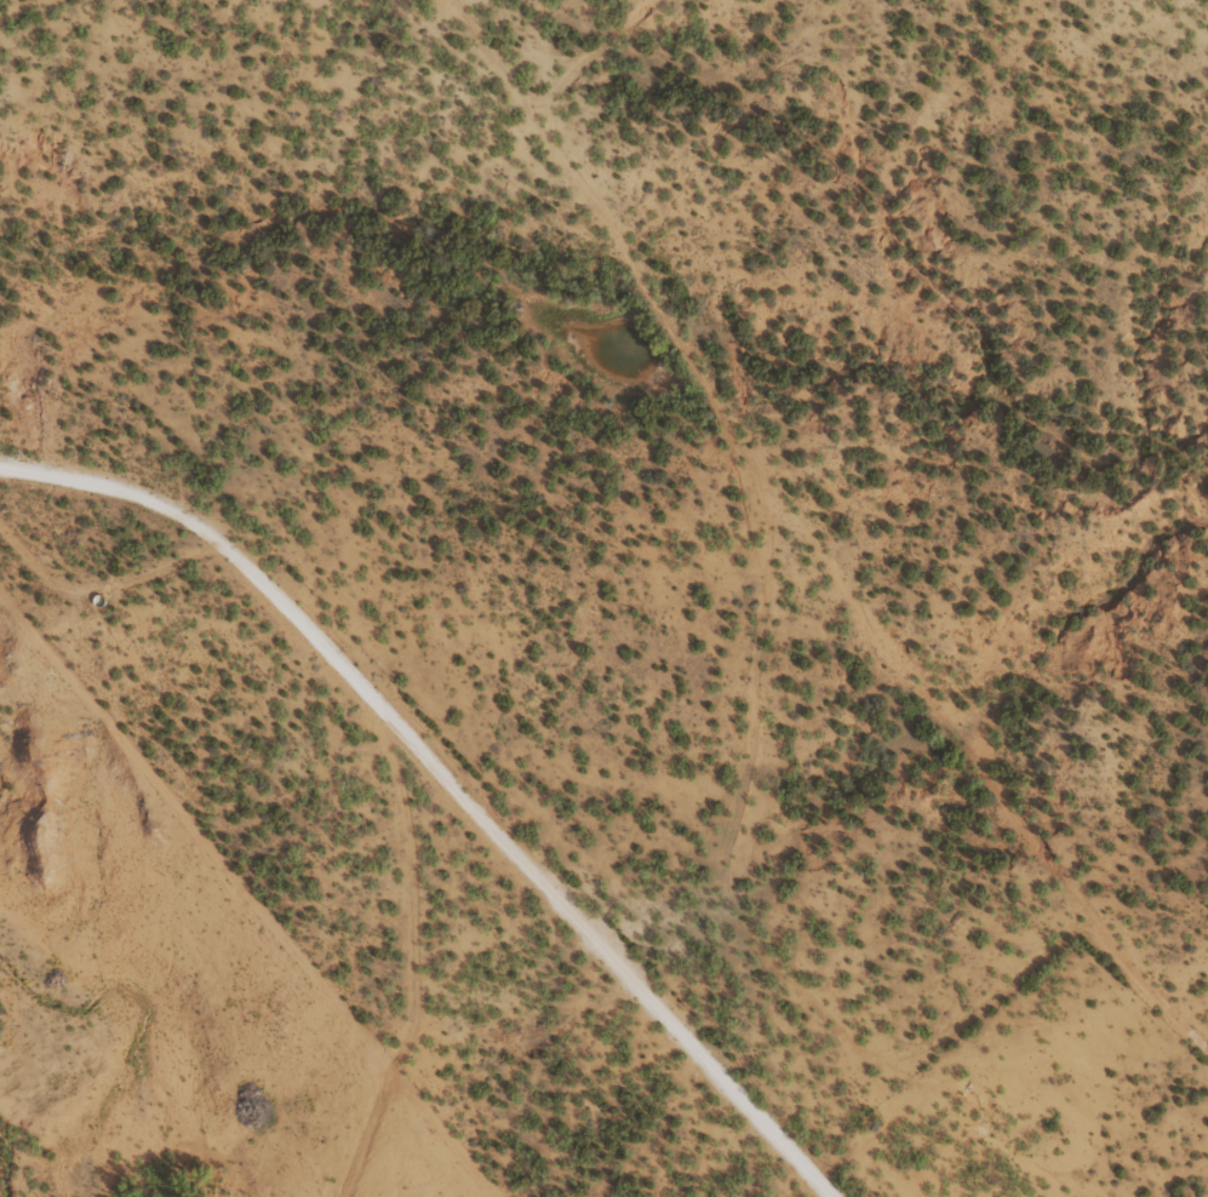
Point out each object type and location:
road: (458, 774)
road: (500, 1036)

